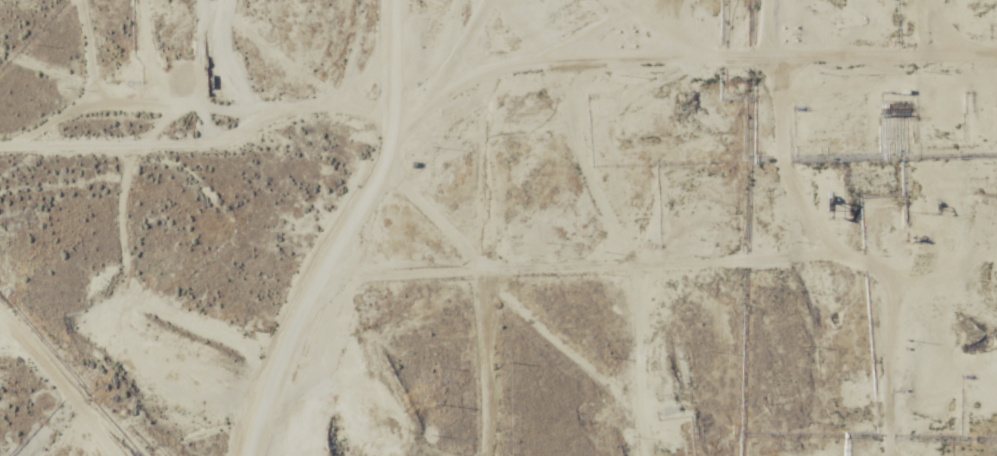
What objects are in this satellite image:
road: (890, 326)
road: (64, 390)

